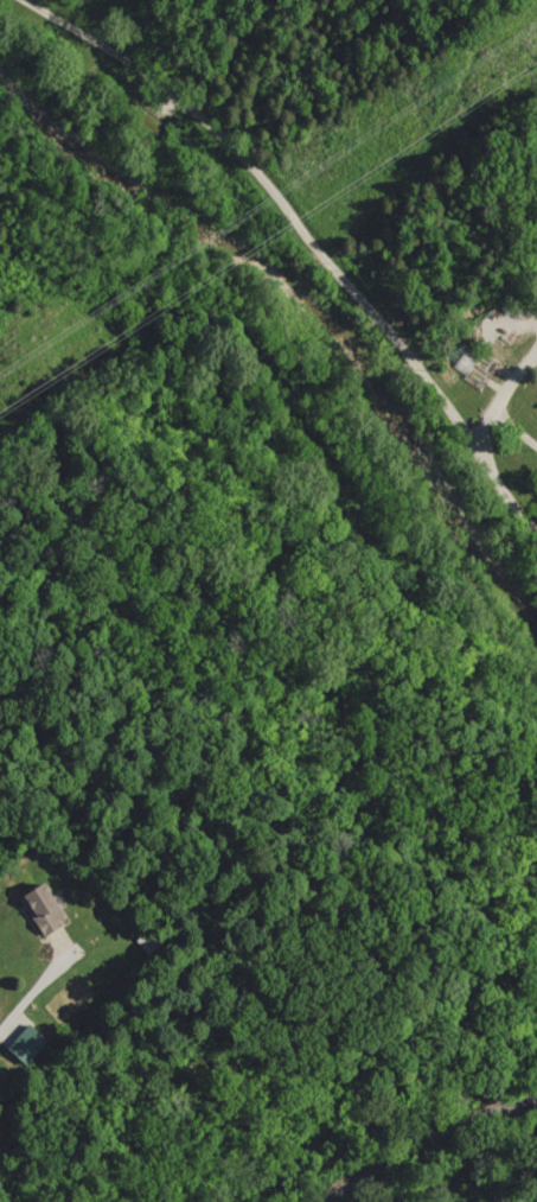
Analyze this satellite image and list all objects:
road: (282, 329)
building: (49, 909)
building: (33, 1044)
road: (428, 1144)

